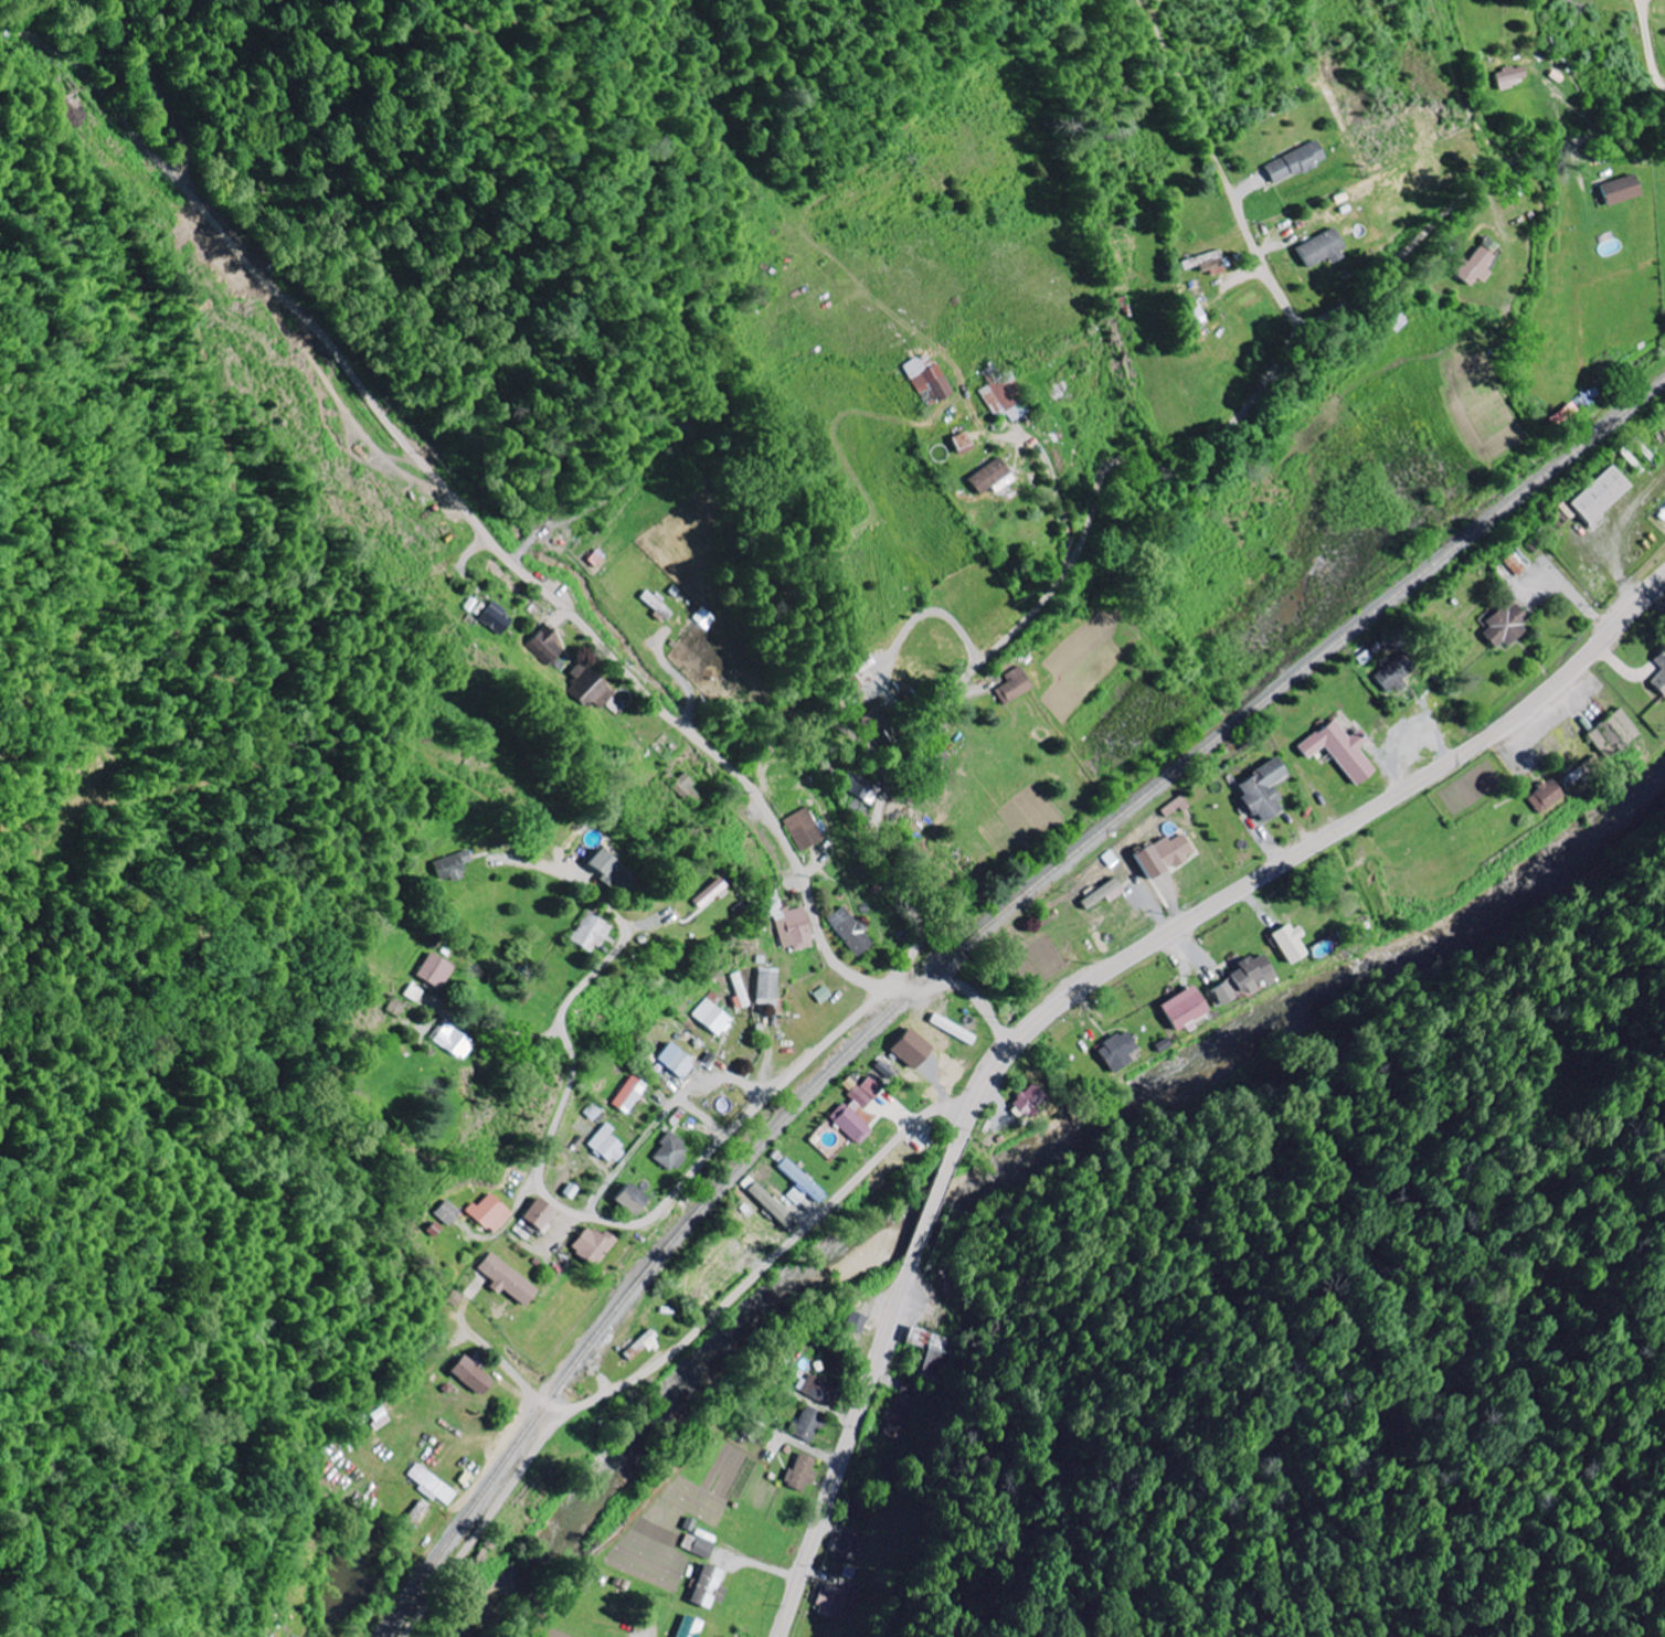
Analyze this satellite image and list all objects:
building: (1512, 76)
building: (71, 108)
building: (1293, 162)
building: (1622, 189)
building: (1319, 248)
building: (1206, 263)
building: (1474, 266)
building: (1196, 312)
building: (927, 380)
building: (999, 392)
building: (1565, 414)
building: (961, 443)
road: (1143, 461)
building: (989, 477)
road: (629, 485)
building: (1598, 497)
building: (1663, 514)
road: (509, 553)
building: (1517, 562)
building: (656, 604)
building: (497, 617)
building: (708, 617)
building: (1505, 624)
building: (547, 645)
building: (1393, 673)
building: (1659, 673)
building: (845, 685)
building: (1014, 685)
building: (588, 688)
building: (873, 725)
building: (1614, 734)
road: (767, 747)
building: (1340, 751)
building: (861, 786)
building: (686, 788)
building: (1262, 791)
building: (1545, 796)
building: (858, 808)
building: (804, 829)
building: (1163, 854)
road: (1298, 855)
building: (455, 864)
building: (609, 871)
building: (702, 893)
building: (1104, 893)
building: (788, 923)
building: (849, 931)
building: (588, 933)
building: (1290, 943)
railway: (959, 946)
road: (598, 968)
building: (433, 970)
building: (1252, 972)
building: (767, 986)
building: (740, 991)
building: (413, 992)
building: (1221, 992)
building: (1184, 1008)
building: (713, 1018)
building: (452, 1041)
building: (910, 1048)
building: (1116, 1051)
building: (676, 1060)
building: (629, 1094)
road: (565, 1101)
building: (1027, 1102)
building: (856, 1109)
road: (664, 1115)
road: (741, 1122)
building: (607, 1144)
building: (670, 1152)
river: (1030, 1169)
building: (799, 1183)
building: (628, 1199)
road: (936, 1201)
building: (770, 1204)
building: (448, 1212)
building: (490, 1212)
road: (513, 1213)
building: (537, 1213)
building: (591, 1245)
building: (505, 1278)
building: (857, 1322)
road: (439, 1332)
building: (640, 1346)
road: (669, 1348)
building: (937, 1351)
building: (470, 1375)
building: (823, 1389)
building: (812, 1424)
road: (851, 1446)
road: (814, 1447)
building: (805, 1471)
building: (433, 1485)
building: (707, 1548)
building: (711, 1586)
building: (839, 1601)
building: (693, 1627)

